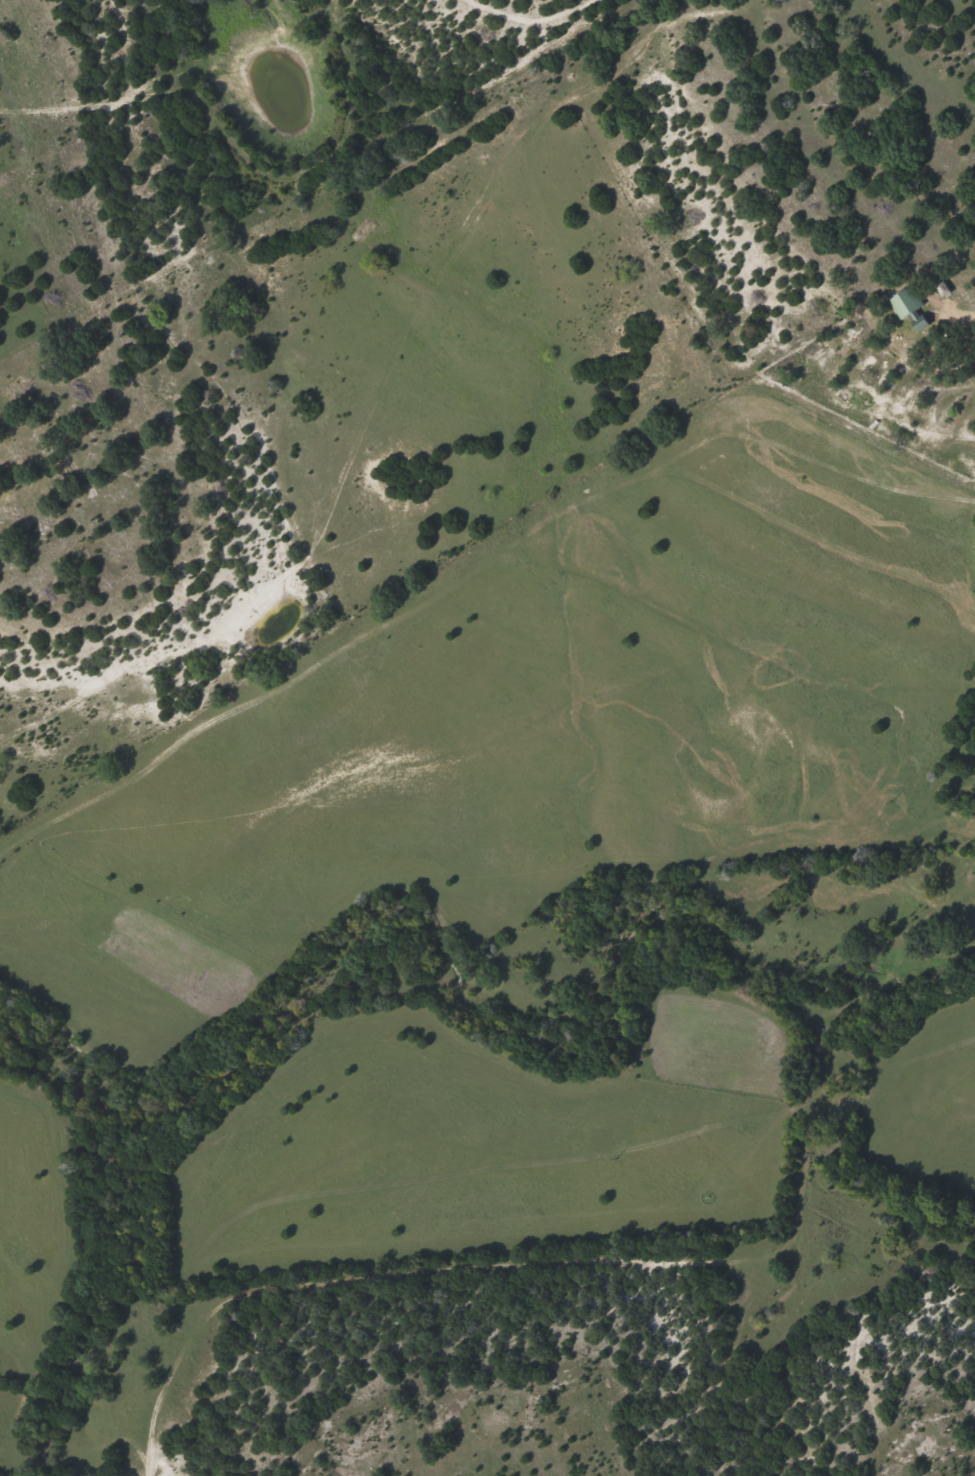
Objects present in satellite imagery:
building: (906, 303)

